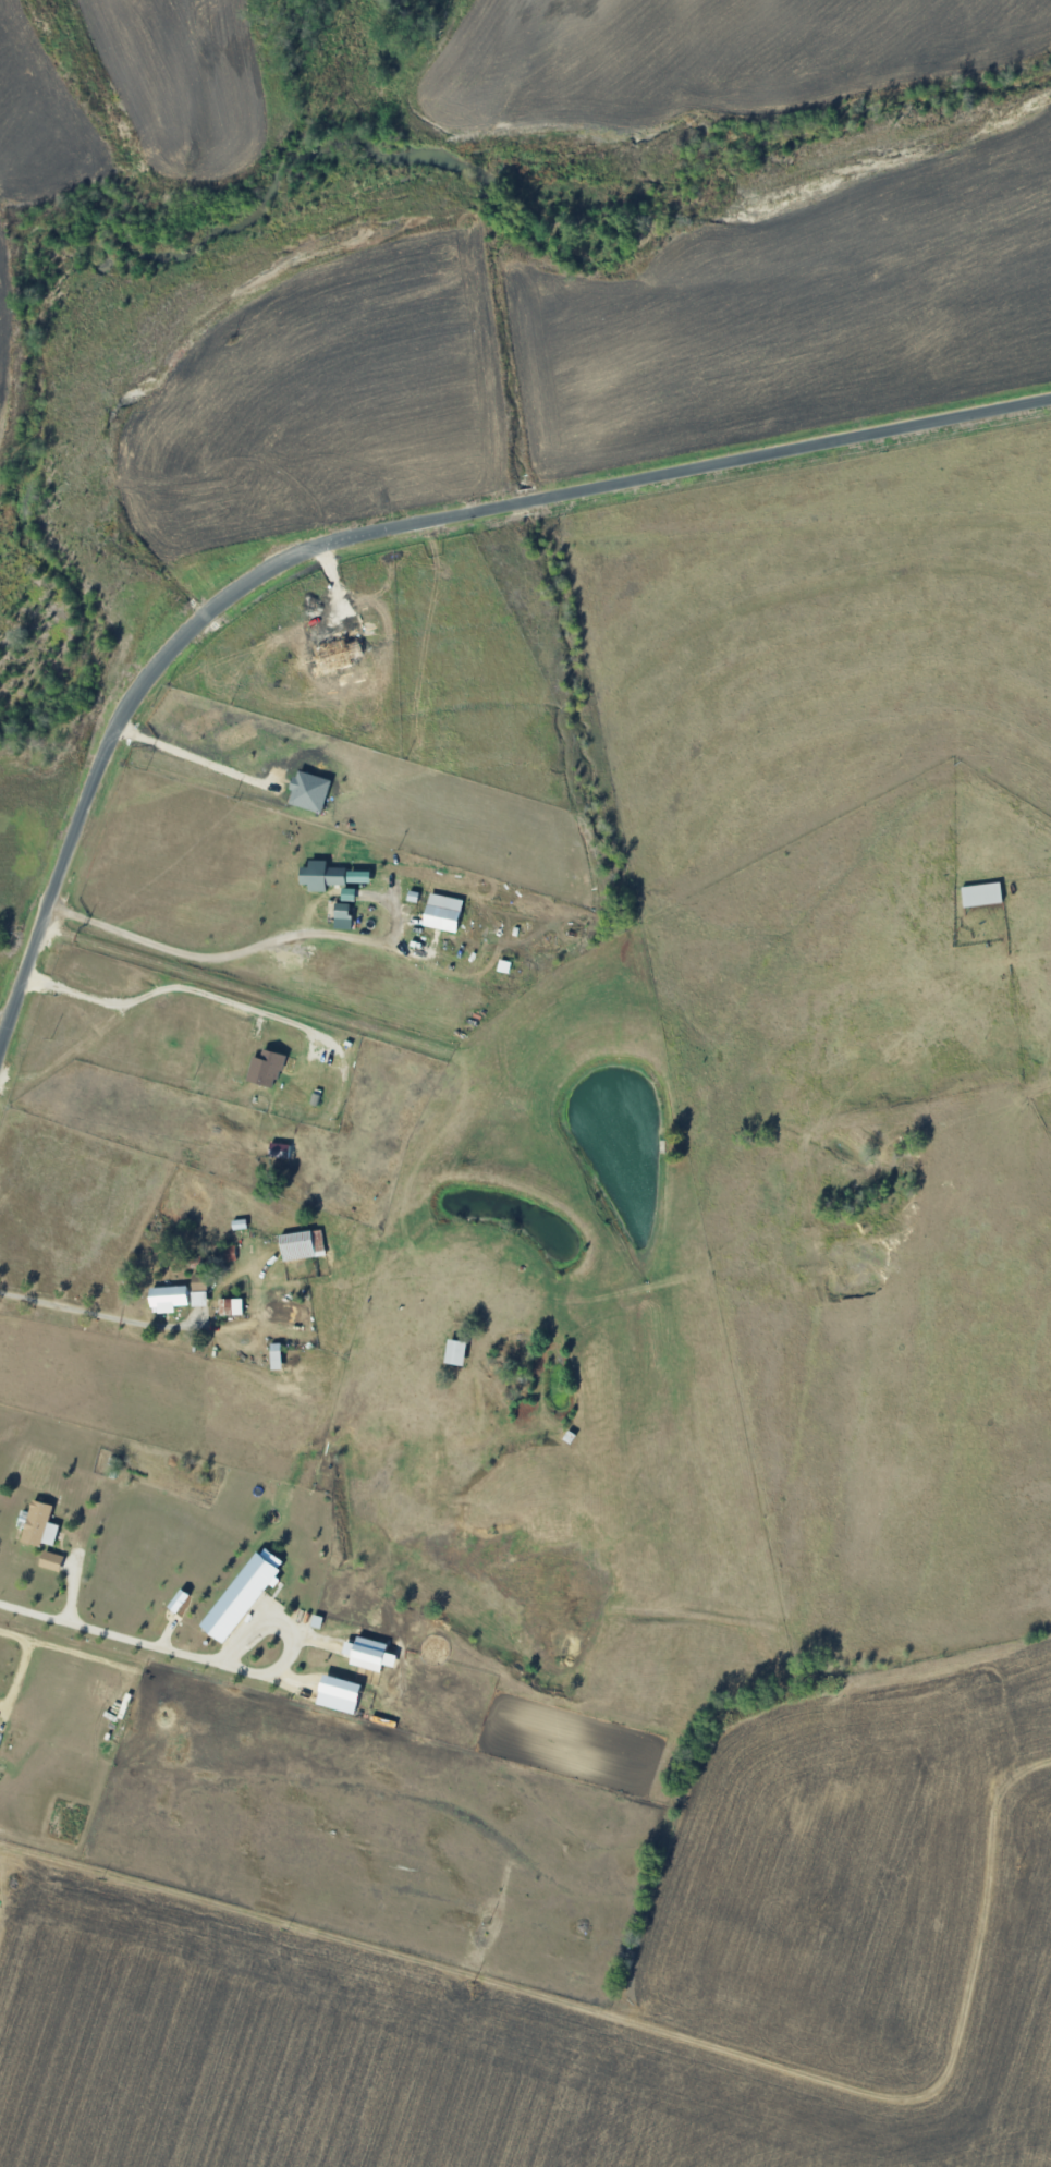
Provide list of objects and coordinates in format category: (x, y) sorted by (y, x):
road: (368, 532)
building: (321, 876)
building: (358, 877)
building: (347, 894)
building: (981, 894)
building: (441, 913)
building: (342, 916)
road: (1018, 958)
road: (222, 964)
road: (145, 997)
building: (265, 1070)
building: (279, 1152)
building: (301, 1246)
building: (230, 1254)
building: (198, 1283)
building: (168, 1300)
building: (230, 1307)
road: (70, 1319)
building: (455, 1354)
building: (38, 1525)
building: (50, 1561)
building: (242, 1595)
road: (114, 1647)
building: (368, 1655)
building: (337, 1693)
road: (555, 1986)

